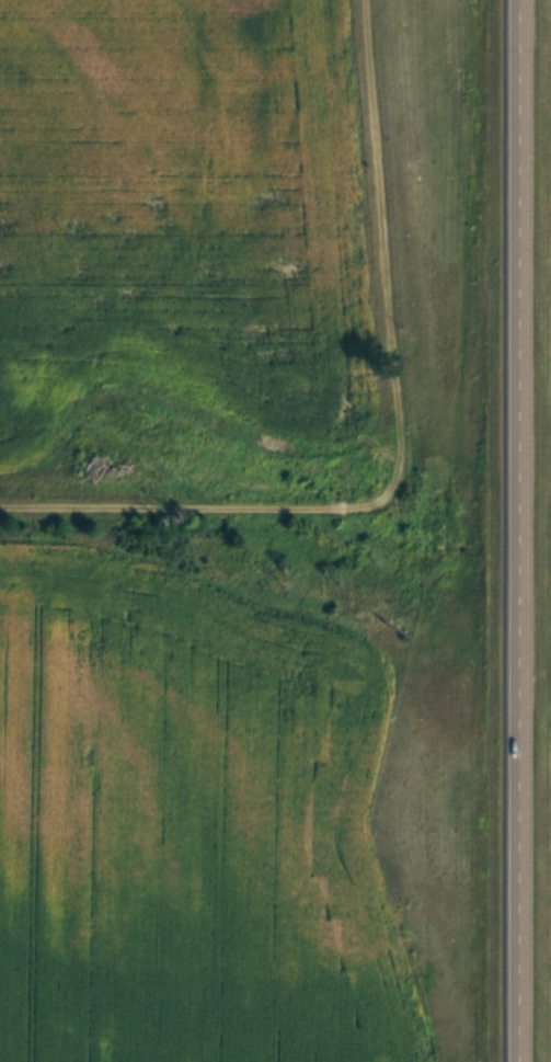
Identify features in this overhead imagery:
road: (198, 506)
road: (512, 530)

